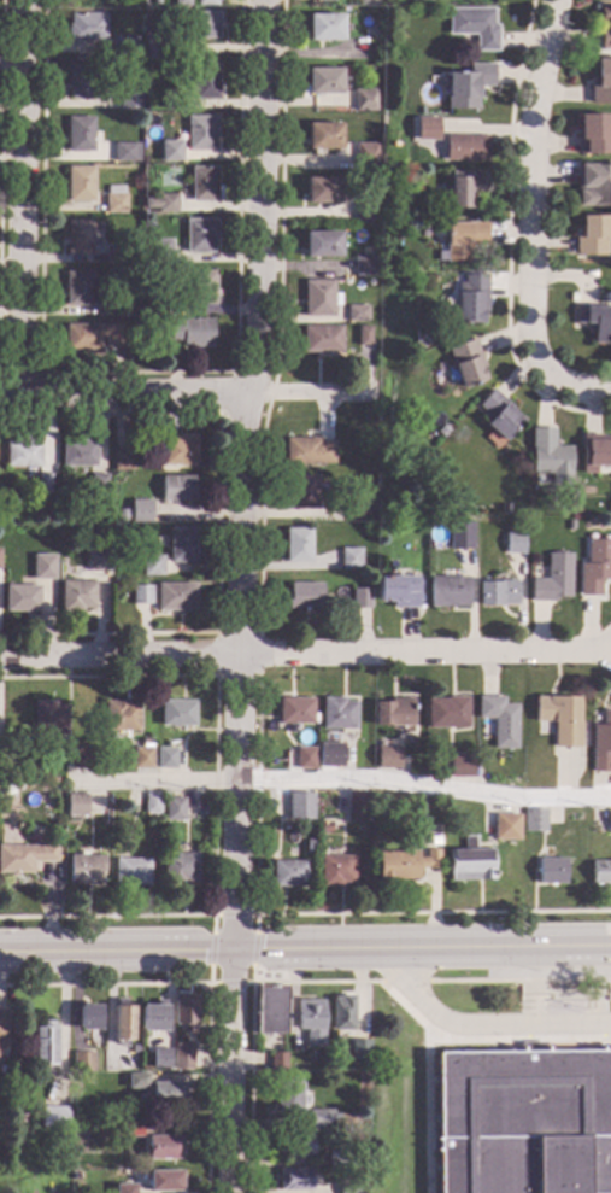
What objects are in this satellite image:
building: (322, 0)
building: (419, 0)
building: (154, 1)
building: (181, 2)
building: (206, 2)
building: (199, 24)
building: (472, 24)
building: (86, 27)
building: (325, 27)
building: (604, 27)
building: (369, 31)
building: (124, 47)
building: (155, 48)
building: (151, 75)
building: (81, 80)
building: (204, 80)
building: (323, 80)
building: (600, 81)
building: (466, 84)
building: (123, 99)
building: (364, 99)
building: (176, 101)
building: (425, 128)
building: (200, 131)
building: (80, 133)
building: (592, 133)
building: (323, 135)
building: (464, 147)
building: (170, 150)
building: (127, 151)
building: (365, 154)
building: (78, 183)
building: (204, 183)
road: (529, 185)
building: (593, 185)
building: (463, 186)
building: (322, 189)
road: (16, 198)
building: (114, 198)
building: (161, 201)
building: (364, 211)
building: (400, 229)
building: (422, 232)
building: (199, 234)
building: (591, 235)
building: (78, 236)
road: (506, 239)
building: (459, 240)
building: (321, 244)
building: (159, 251)
building: (114, 253)
building: (363, 263)
building: (152, 277)
building: (201, 286)
building: (80, 287)
building: (318, 298)
building: (468, 298)
building: (127, 305)
building: (172, 305)
building: (357, 312)
road: (280, 316)
building: (594, 321)
building: (190, 331)
building: (89, 335)
building: (363, 335)
building: (322, 339)
building: (464, 362)
road: (572, 387)
road: (306, 394)
road: (121, 396)
building: (497, 415)
building: (178, 449)
building: (309, 450)
building: (594, 451)
building: (22, 452)
building: (78, 452)
building: (547, 452)
building: (124, 460)
building: (43, 483)
building: (98, 484)
building: (175, 489)
building: (301, 491)
building: (581, 493)
building: (358, 508)
building: (506, 508)
building: (140, 509)
building: (121, 514)
building: (417, 522)
building: (569, 525)
building: (459, 536)
building: (512, 542)
building: (181, 543)
building: (296, 544)
building: (349, 557)
building: (94, 560)
building: (151, 565)
building: (594, 566)
building: (43, 568)
building: (552, 578)
building: (241, 587)
building: (396, 590)
building: (447, 591)
building: (497, 592)
building: (143, 593)
building: (74, 595)
road: (240, 595)
building: (304, 595)
building: (121, 596)
building: (175, 596)
building: (20, 597)
building: (359, 597)
road: (305, 654)
road: (216, 676)
building: (294, 710)
building: (176, 712)
building: (393, 712)
building: (446, 712)
building: (337, 713)
building: (48, 715)
building: (119, 715)
building: (559, 718)
building: (499, 719)
building: (333, 735)
building: (603, 736)
building: (25, 741)
building: (330, 754)
building: (142, 755)
building: (388, 756)
building: (80, 758)
building: (165, 758)
building: (305, 758)
building: (459, 765)
road: (341, 782)
building: (107, 801)
building: (356, 801)
building: (152, 803)
building: (76, 805)
building: (299, 806)
building: (174, 808)
building: (1, 809)
building: (533, 819)
building: (610, 821)
building: (505, 826)
building: (324, 828)
building: (310, 846)
building: (289, 850)
building: (24, 856)
building: (430, 859)
building: (469, 861)
building: (396, 865)
building: (178, 867)
building: (84, 869)
building: (335, 870)
building: (130, 871)
building: (550, 871)
building: (600, 871)
building: (288, 873)
road: (312, 913)
road: (212, 914)
road: (305, 948)
road: (325, 981)
road: (599, 986)
road: (529, 990)
road: (568, 990)
road: (569, 993)
road: (588, 996)
road: (533, 1000)
building: (184, 1008)
building: (270, 1010)
building: (341, 1013)
building: (152, 1014)
building: (89, 1016)
building: (310, 1021)
building: (122, 1023)
building: (2, 1024)
road: (481, 1024)
road: (533, 1025)
road: (482, 1039)
building: (43, 1043)
building: (133, 1047)
building: (334, 1049)
building: (358, 1049)
building: (1, 1051)
building: (182, 1055)
building: (159, 1058)
building: (82, 1062)
building: (277, 1062)
building: (5, 1083)
building: (159, 1089)
building: (289, 1094)
road: (425, 1112)
building: (53, 1116)
building: (19, 1118)
building: (321, 1119)
building: (523, 1121)
building: (80, 1128)
building: (131, 1129)
building: (163, 1146)
building: (293, 1146)
building: (335, 1158)
building: (1, 1160)
building: (294, 1179)
building: (163, 1180)
building: (348, 1186)
building: (124, 1188)

